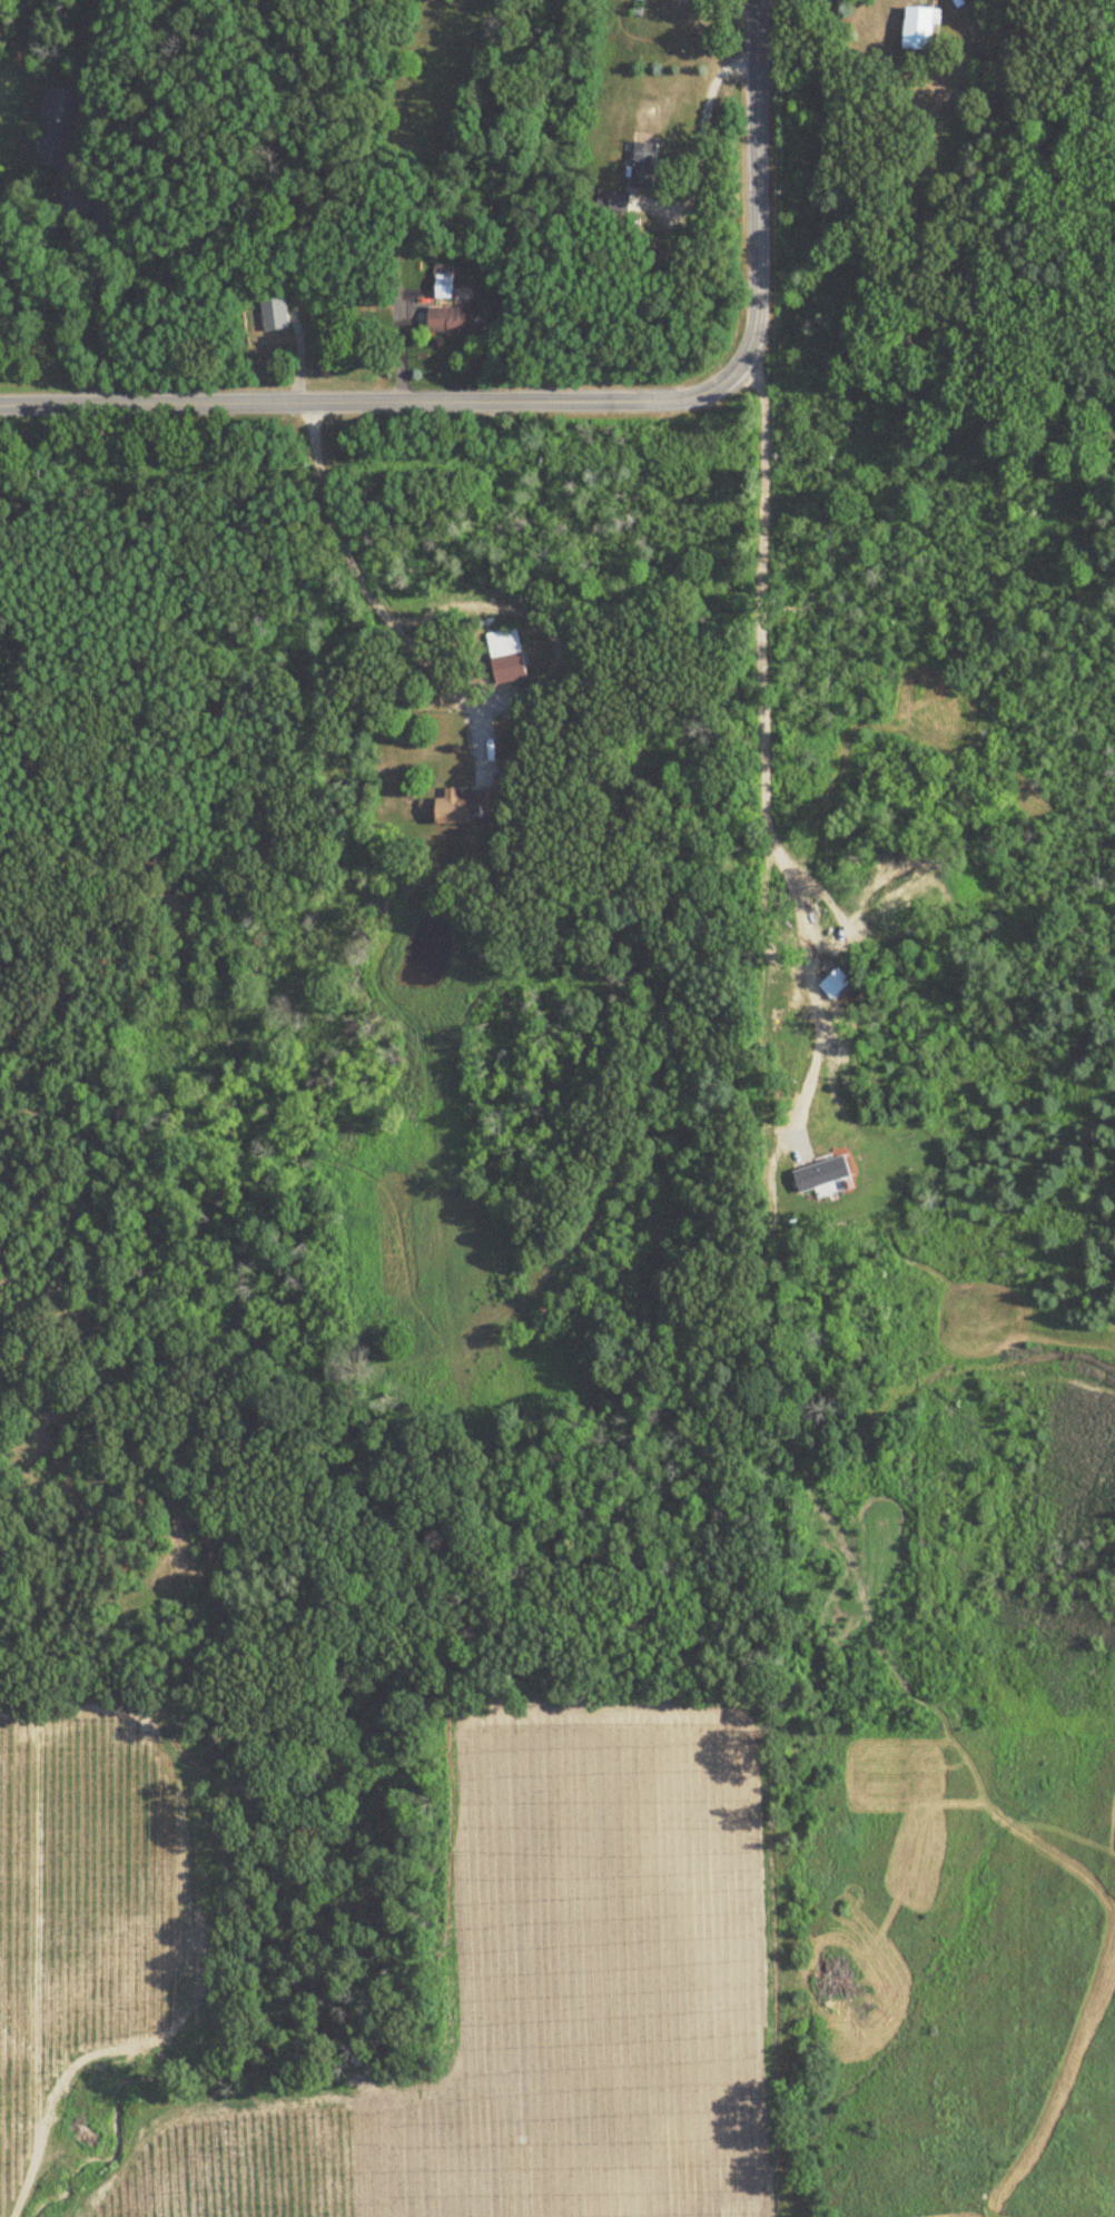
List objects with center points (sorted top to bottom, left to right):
building: (922, 29)
building: (57, 126)
building: (647, 166)
building: (621, 201)
building: (106, 216)
road: (758, 231)
road: (100, 286)
building: (445, 286)
building: (276, 315)
building: (460, 321)
road: (328, 405)
road: (375, 605)
building: (506, 642)
building: (513, 669)
road: (764, 775)
building: (470, 805)
building: (904, 901)
building: (838, 986)

